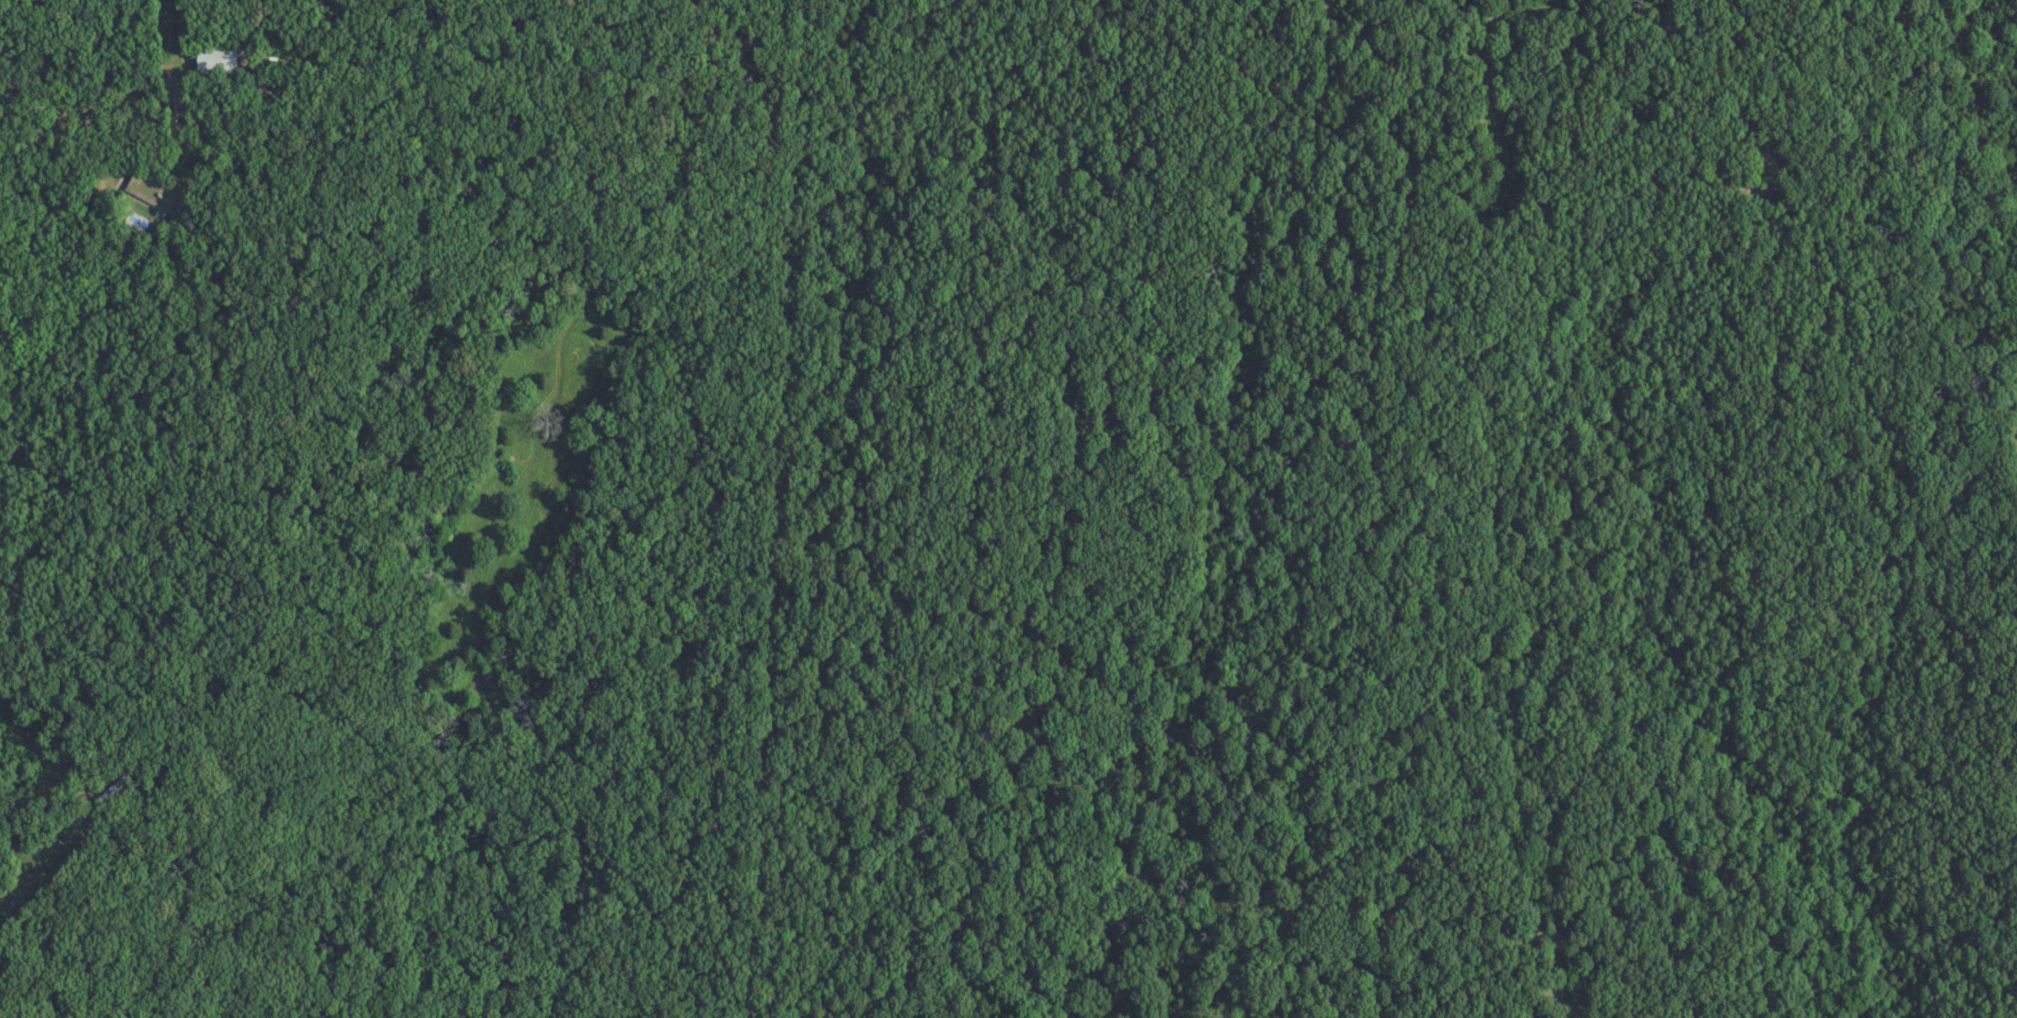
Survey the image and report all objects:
building: (215, 59)
building: (110, 791)

